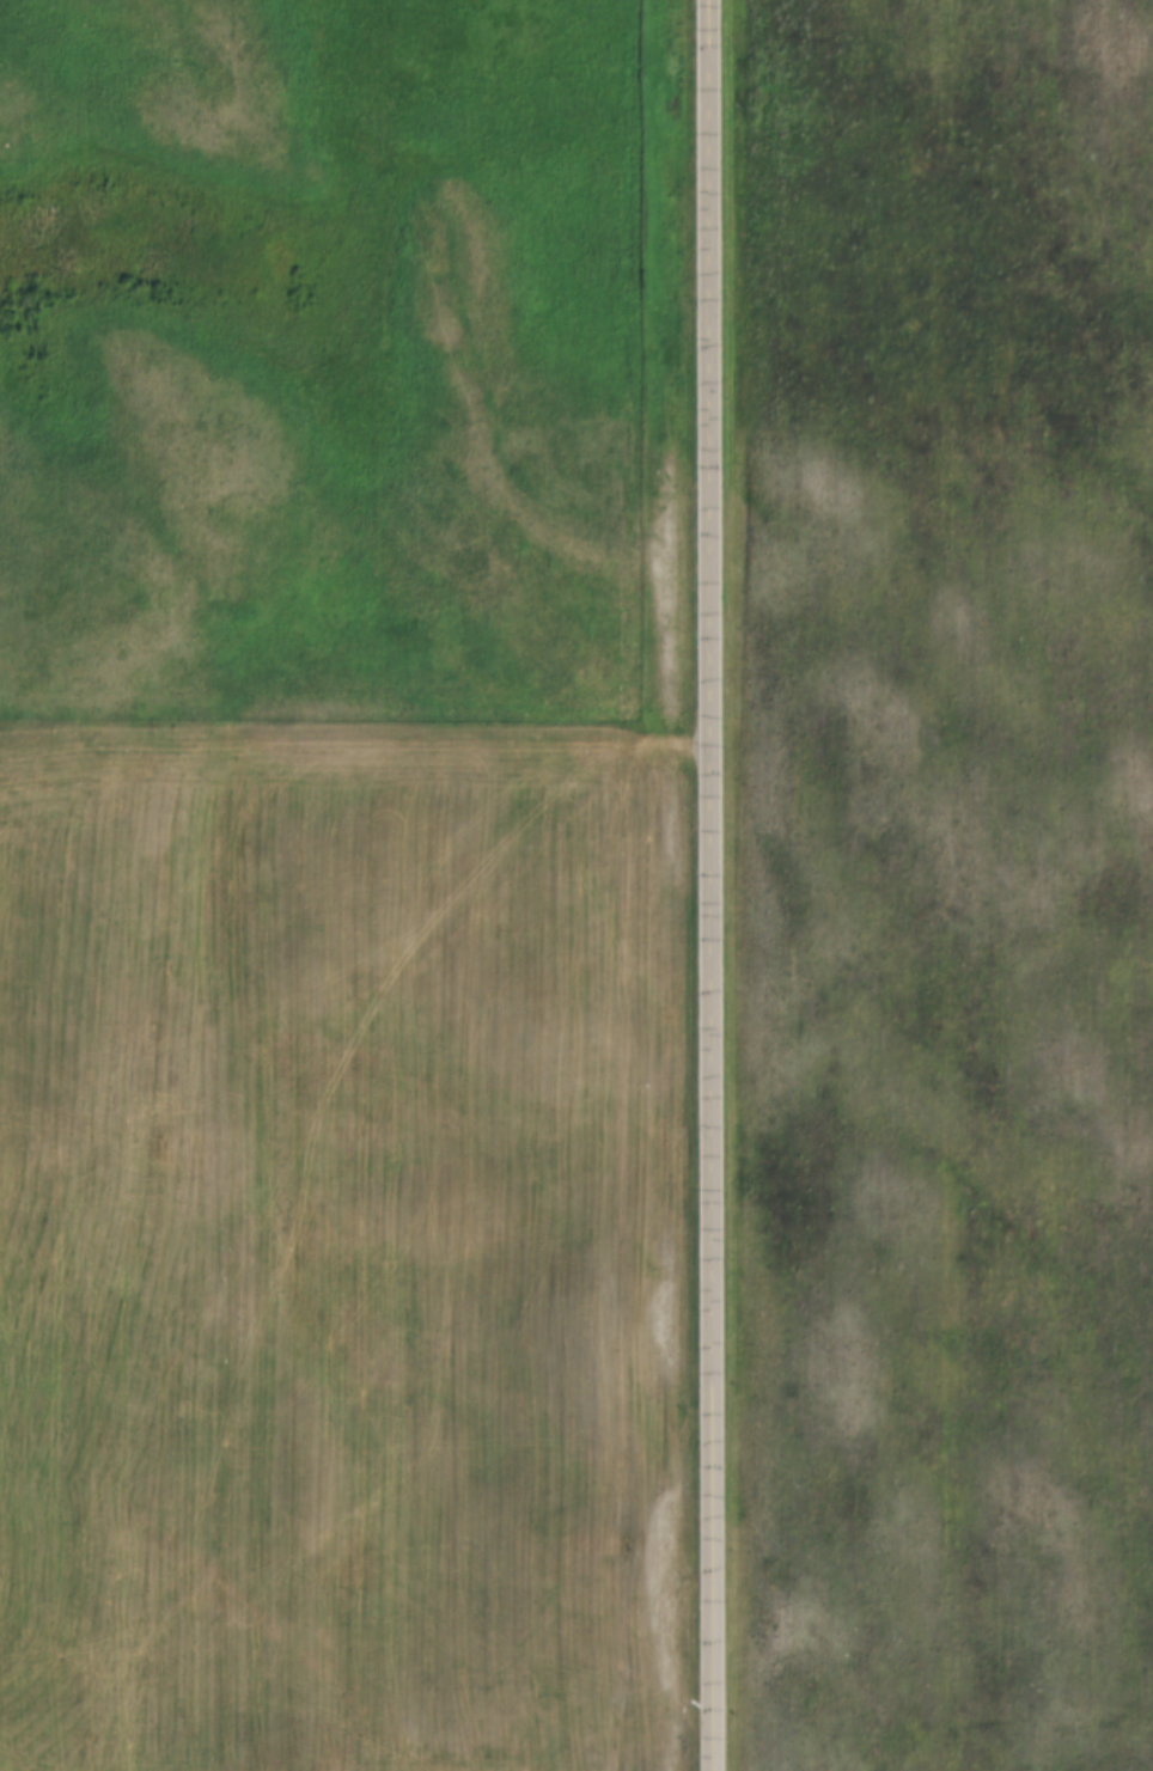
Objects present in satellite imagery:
road: (710, 885)

